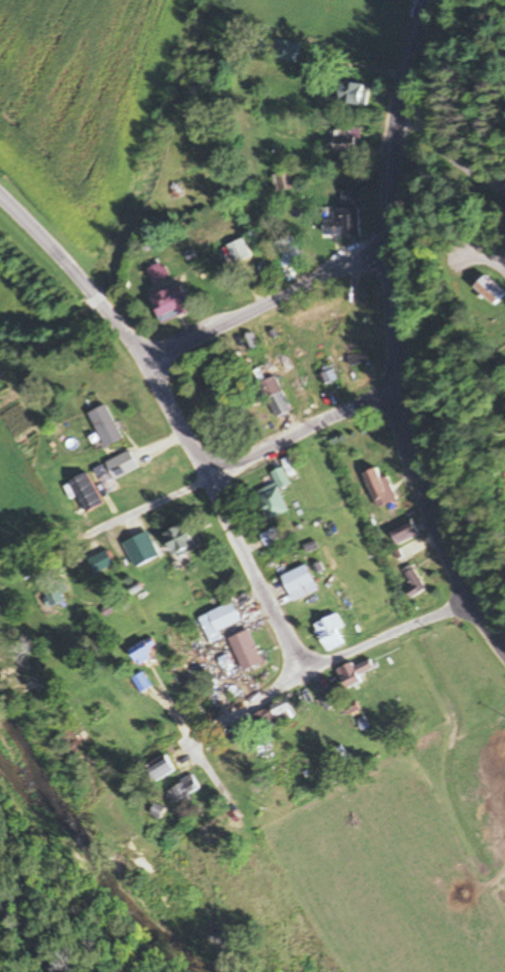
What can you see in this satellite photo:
building: (282, 50)
building: (347, 92)
building: (343, 139)
building: (280, 181)
building: (343, 217)
building: (285, 250)
building: (233, 255)
building: (156, 273)
road: (77, 278)
building: (486, 290)
building: (168, 303)
road: (393, 306)
road: (266, 310)
building: (355, 360)
park: (477, 368)
building: (325, 374)
building: (273, 396)
building: (105, 425)
building: (118, 467)
road: (210, 479)
building: (376, 485)
building: (86, 491)
building: (272, 495)
road: (227, 521)
building: (401, 531)
building: (270, 536)
building: (180, 538)
building: (141, 548)
building: (101, 561)
building: (409, 580)
building: (297, 583)
building: (54, 593)
road: (490, 625)
building: (209, 626)
building: (327, 633)
road: (390, 640)
building: (244, 650)
building: (140, 653)
building: (351, 673)
building: (326, 699)
road: (244, 712)
building: (278, 714)
building: (229, 760)
building: (158, 769)
road: (199, 776)
building: (186, 787)
building: (210, 835)
river: (103, 874)

